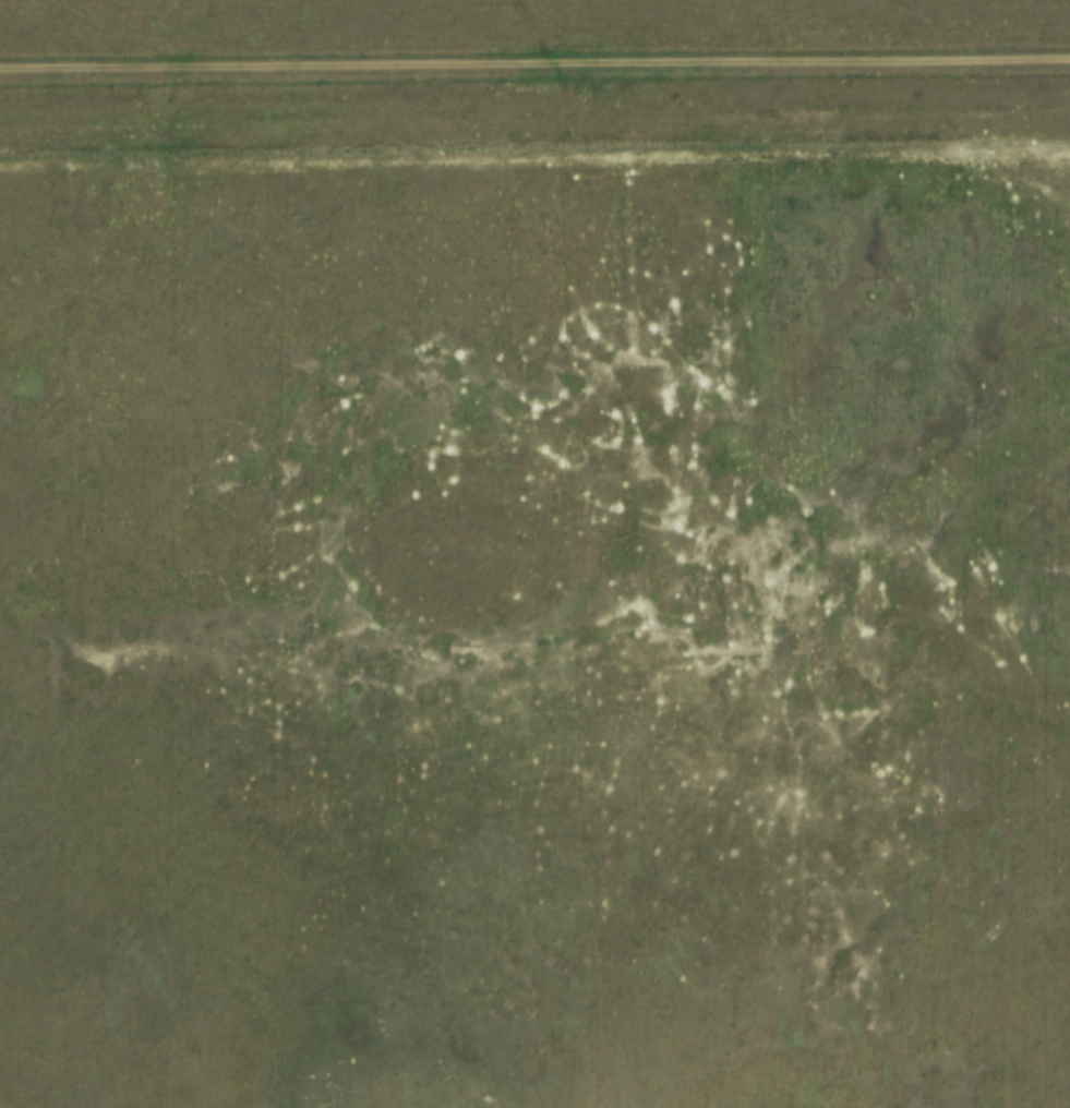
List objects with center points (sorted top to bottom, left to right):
road: (534, 67)
building: (632, 351)
building: (639, 449)
building: (296, 527)
building: (323, 562)
building: (652, 564)
building: (496, 567)
building: (806, 590)
building: (777, 599)
building: (300, 653)
building: (531, 653)
building: (646, 719)
building: (672, 774)
building: (606, 806)

